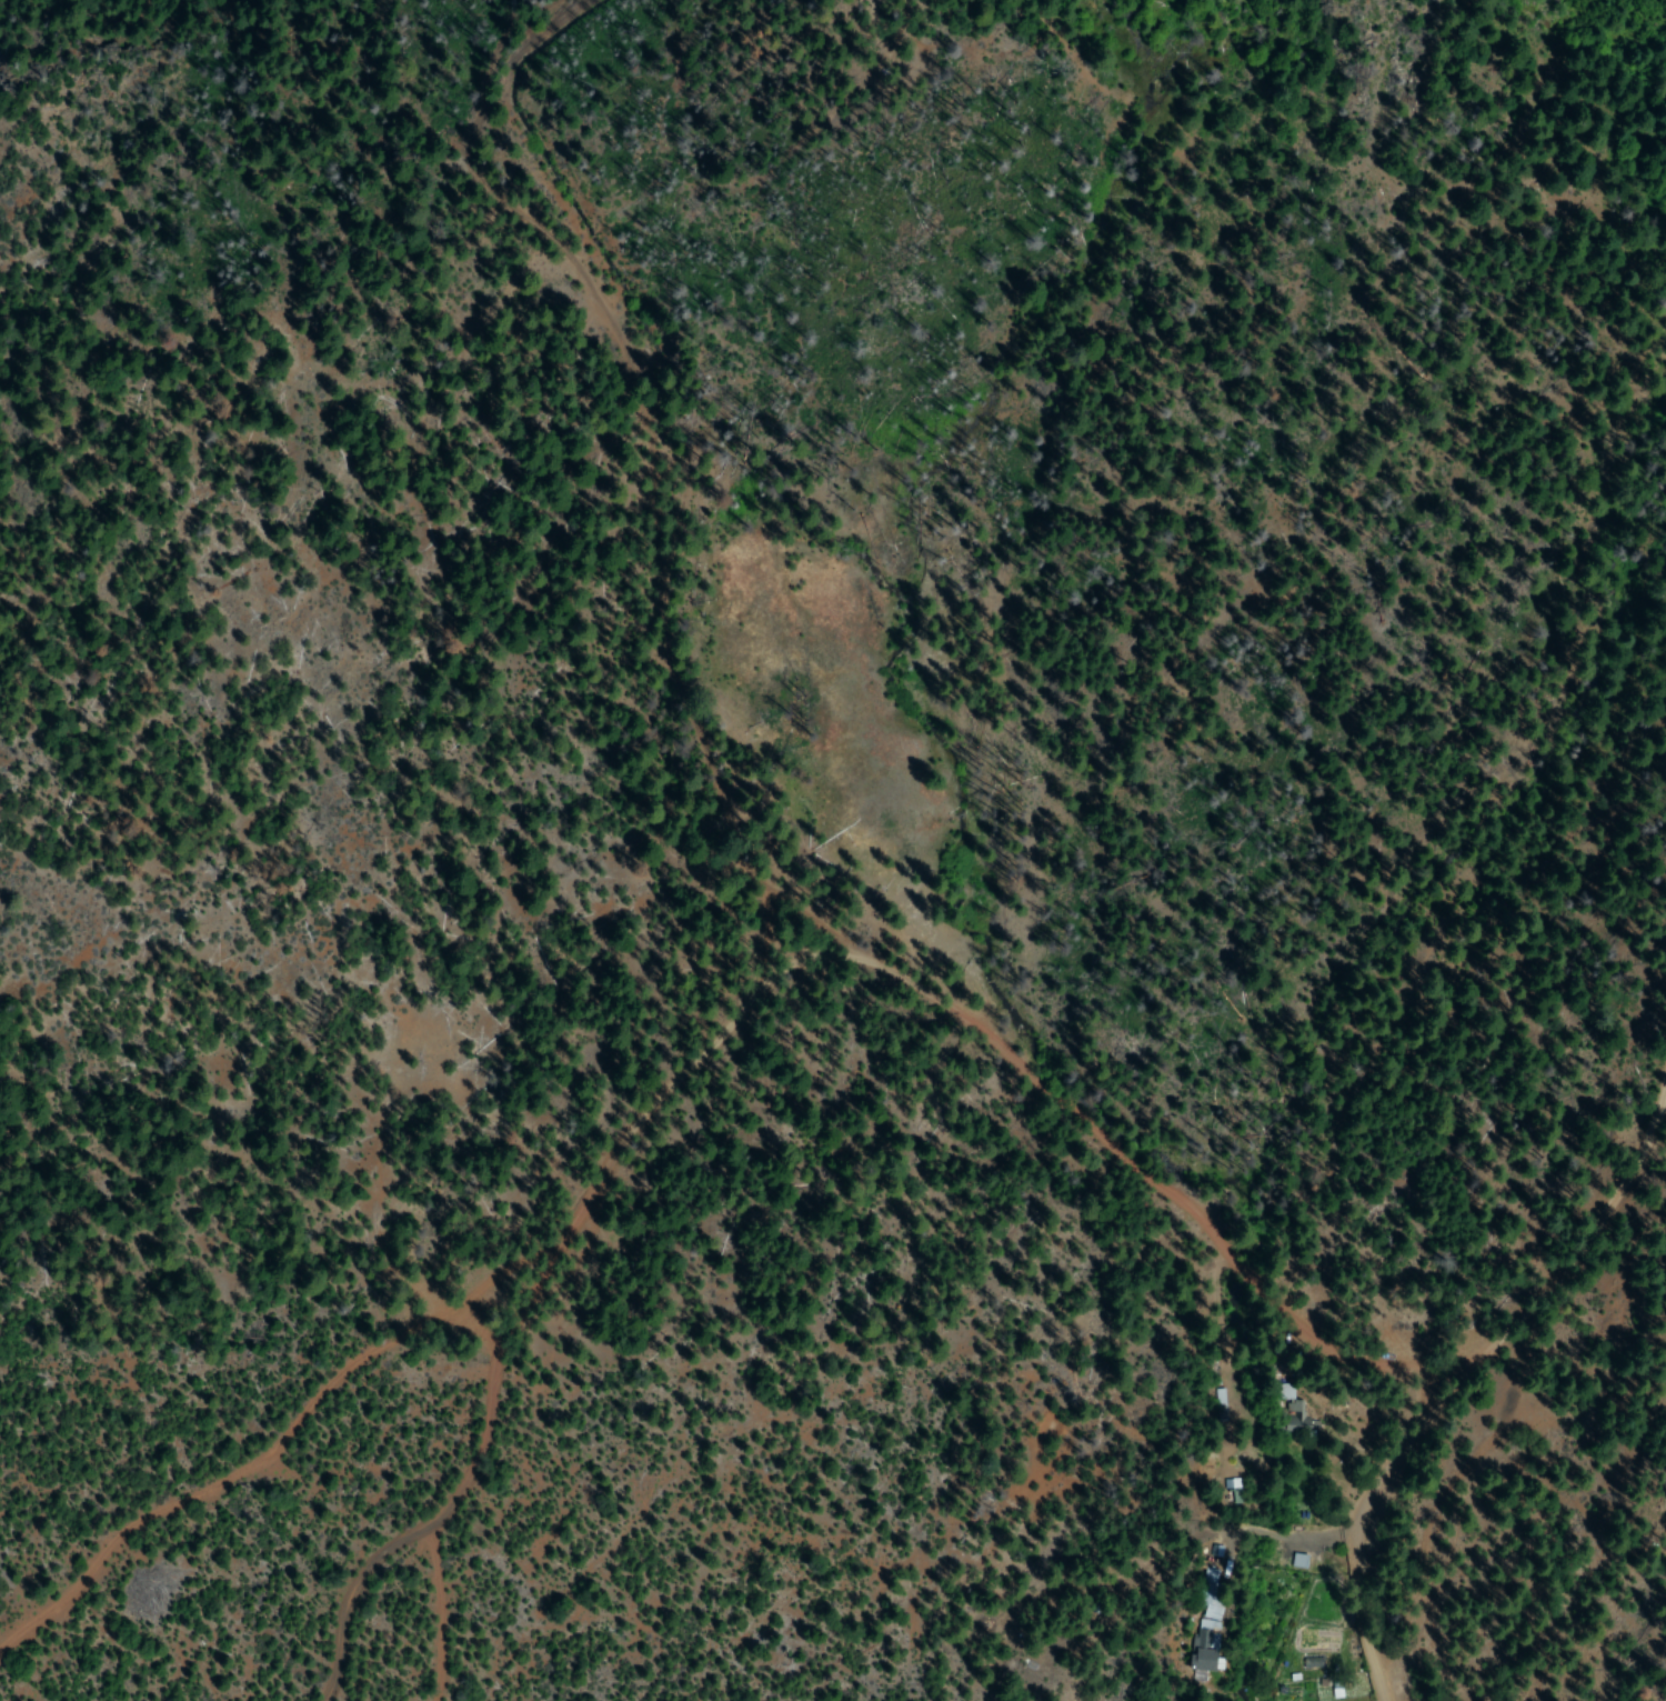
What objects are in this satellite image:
road: (215, 46)
road: (614, 466)
road: (1133, 1152)
road: (412, 1330)
road: (1478, 1449)
road: (370, 1501)

